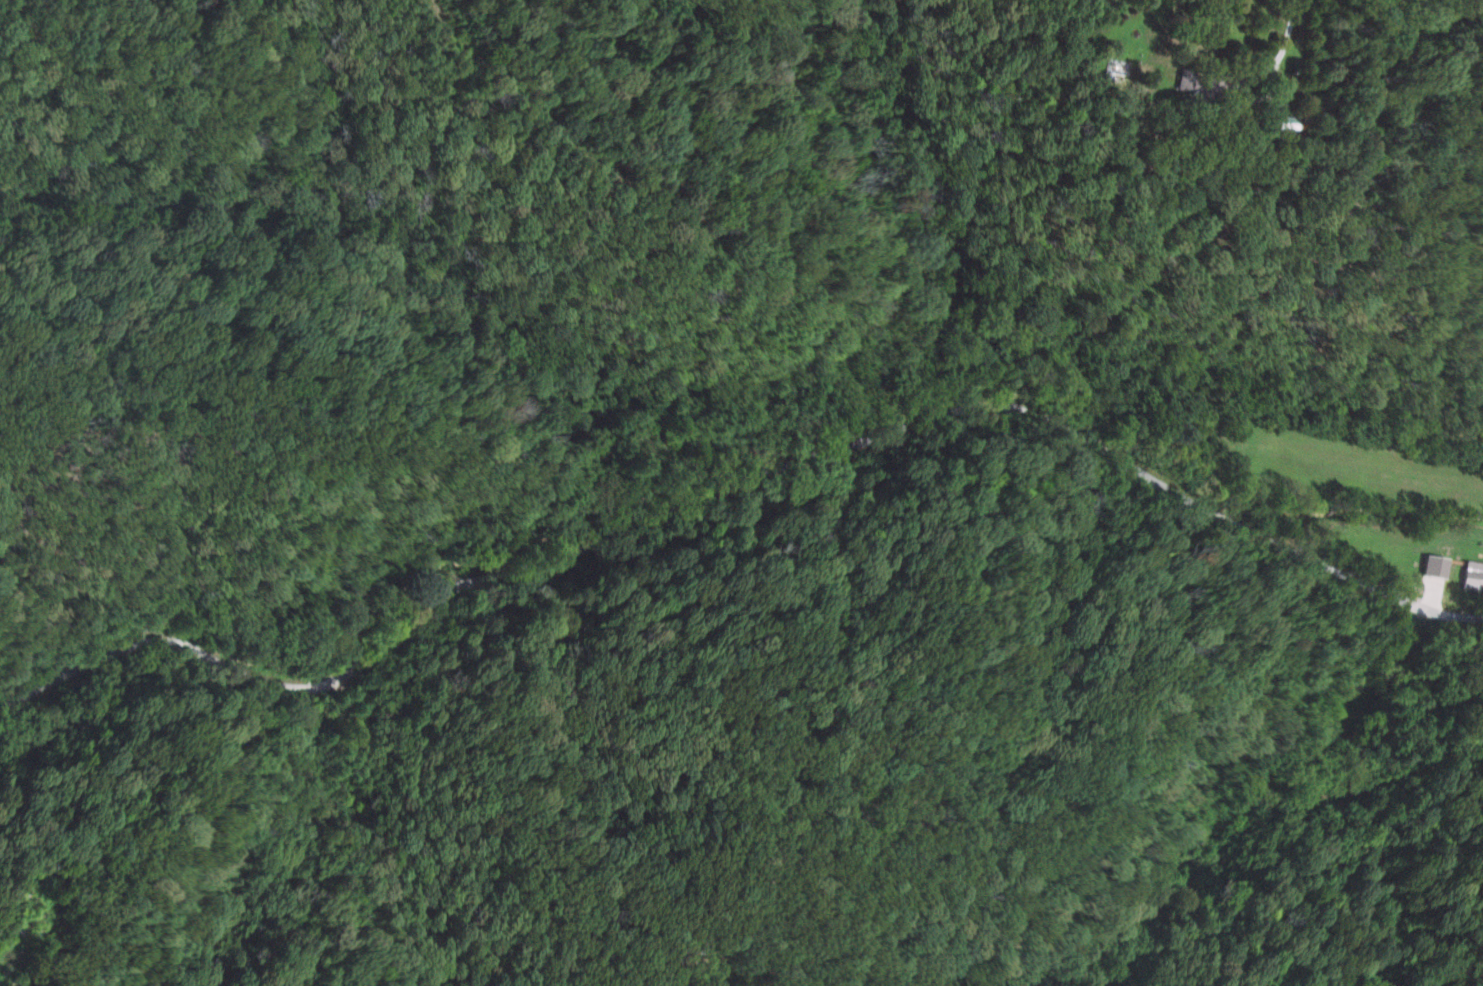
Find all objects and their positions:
road: (1279, 42)
building: (1197, 85)
building: (1281, 122)
road: (783, 468)
building: (1470, 575)
road: (46, 675)

